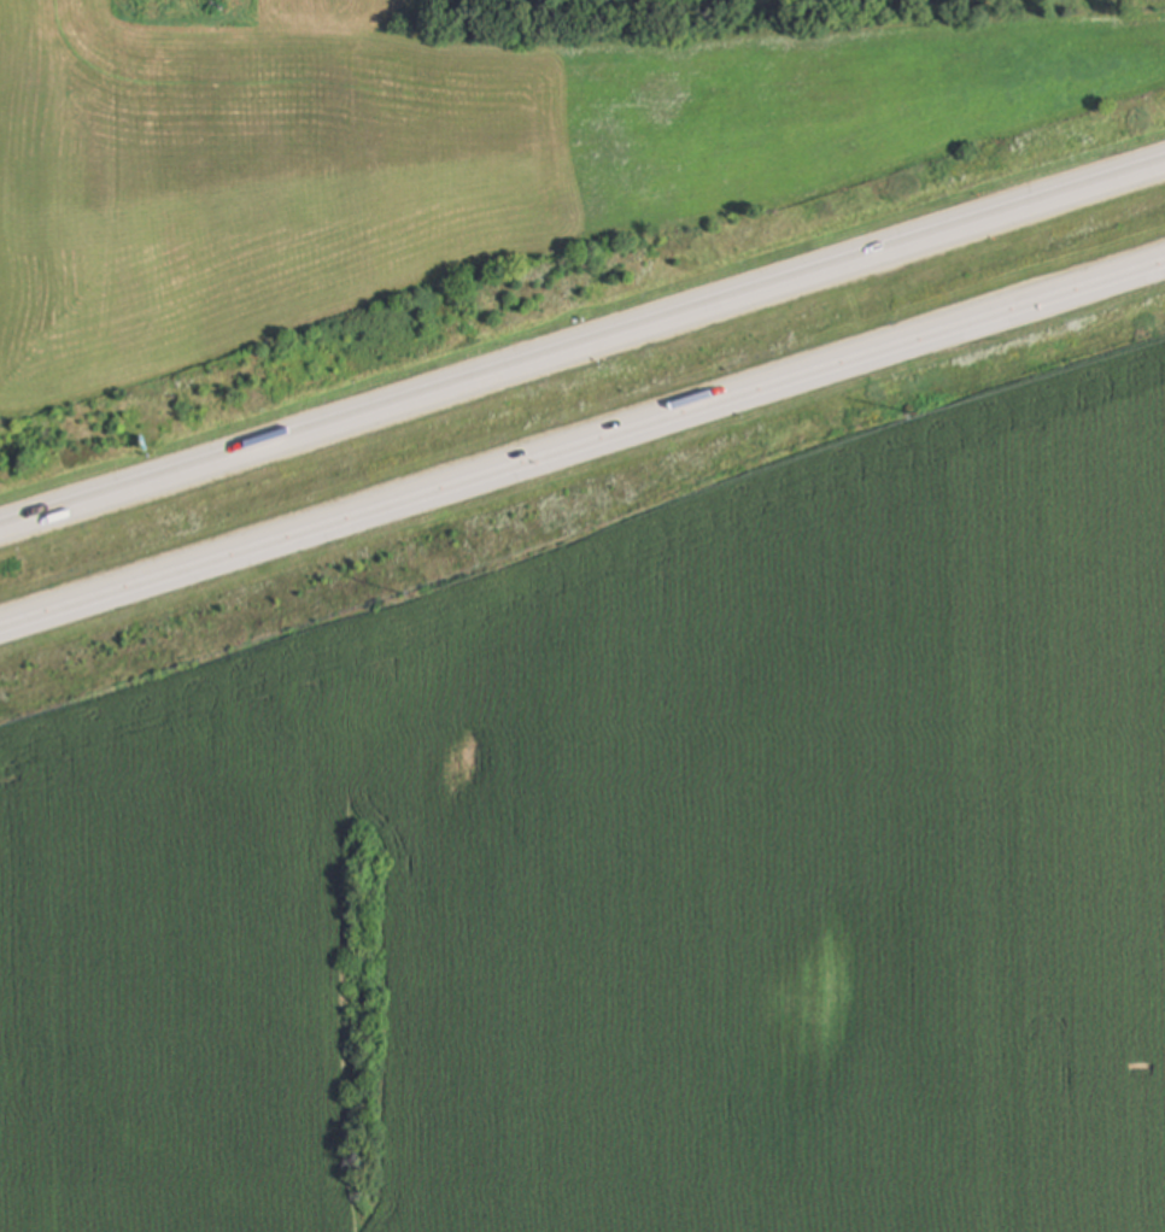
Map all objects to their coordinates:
road: (581, 353)
road: (582, 451)

